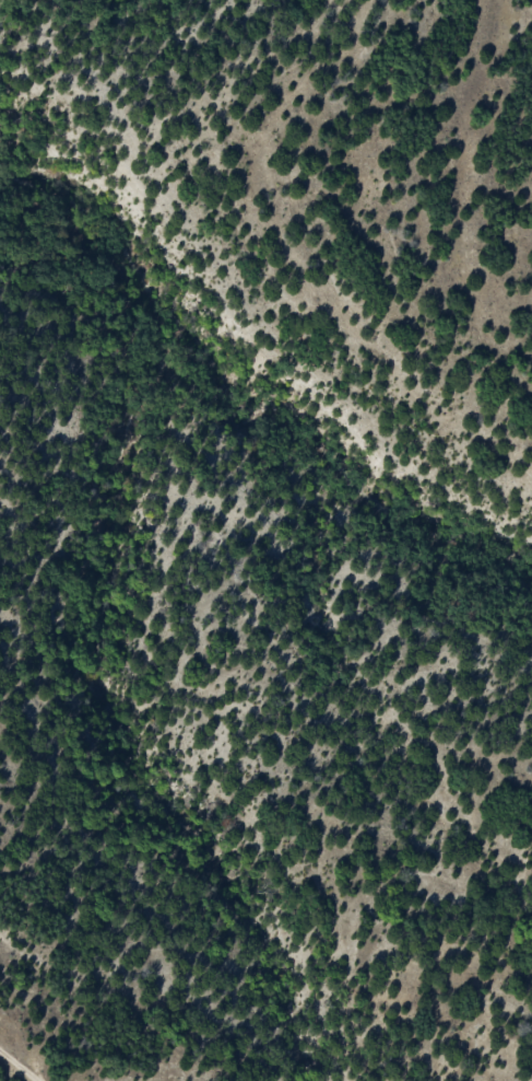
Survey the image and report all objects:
road: (15, 1069)

